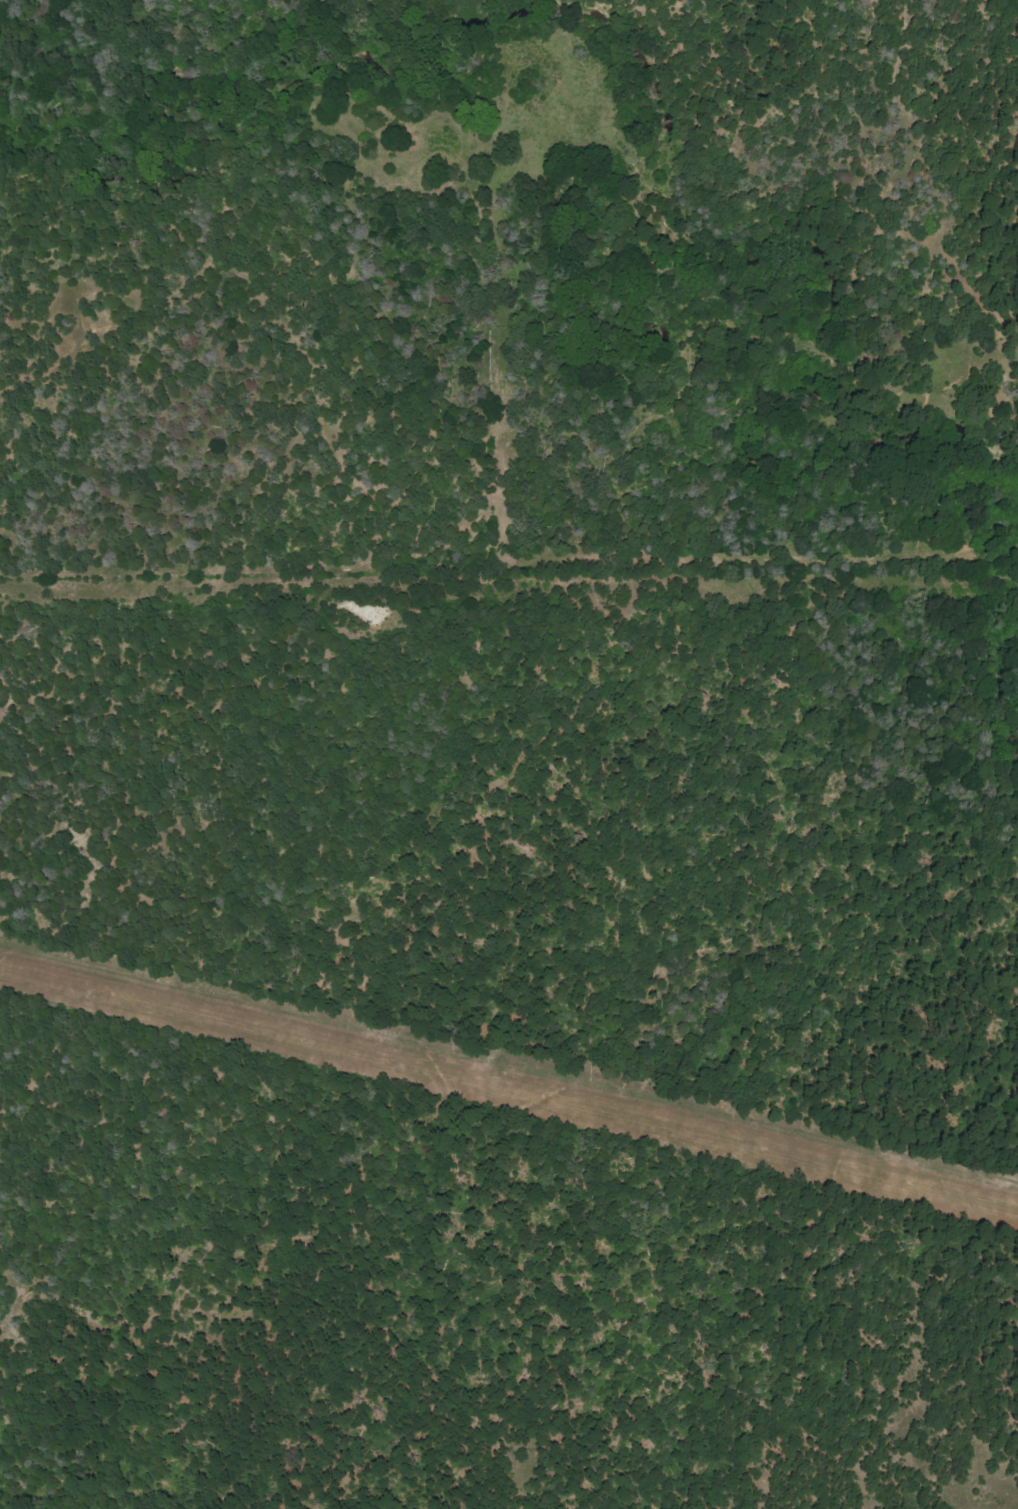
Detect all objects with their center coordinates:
road: (299, 196)
road: (309, 1292)

